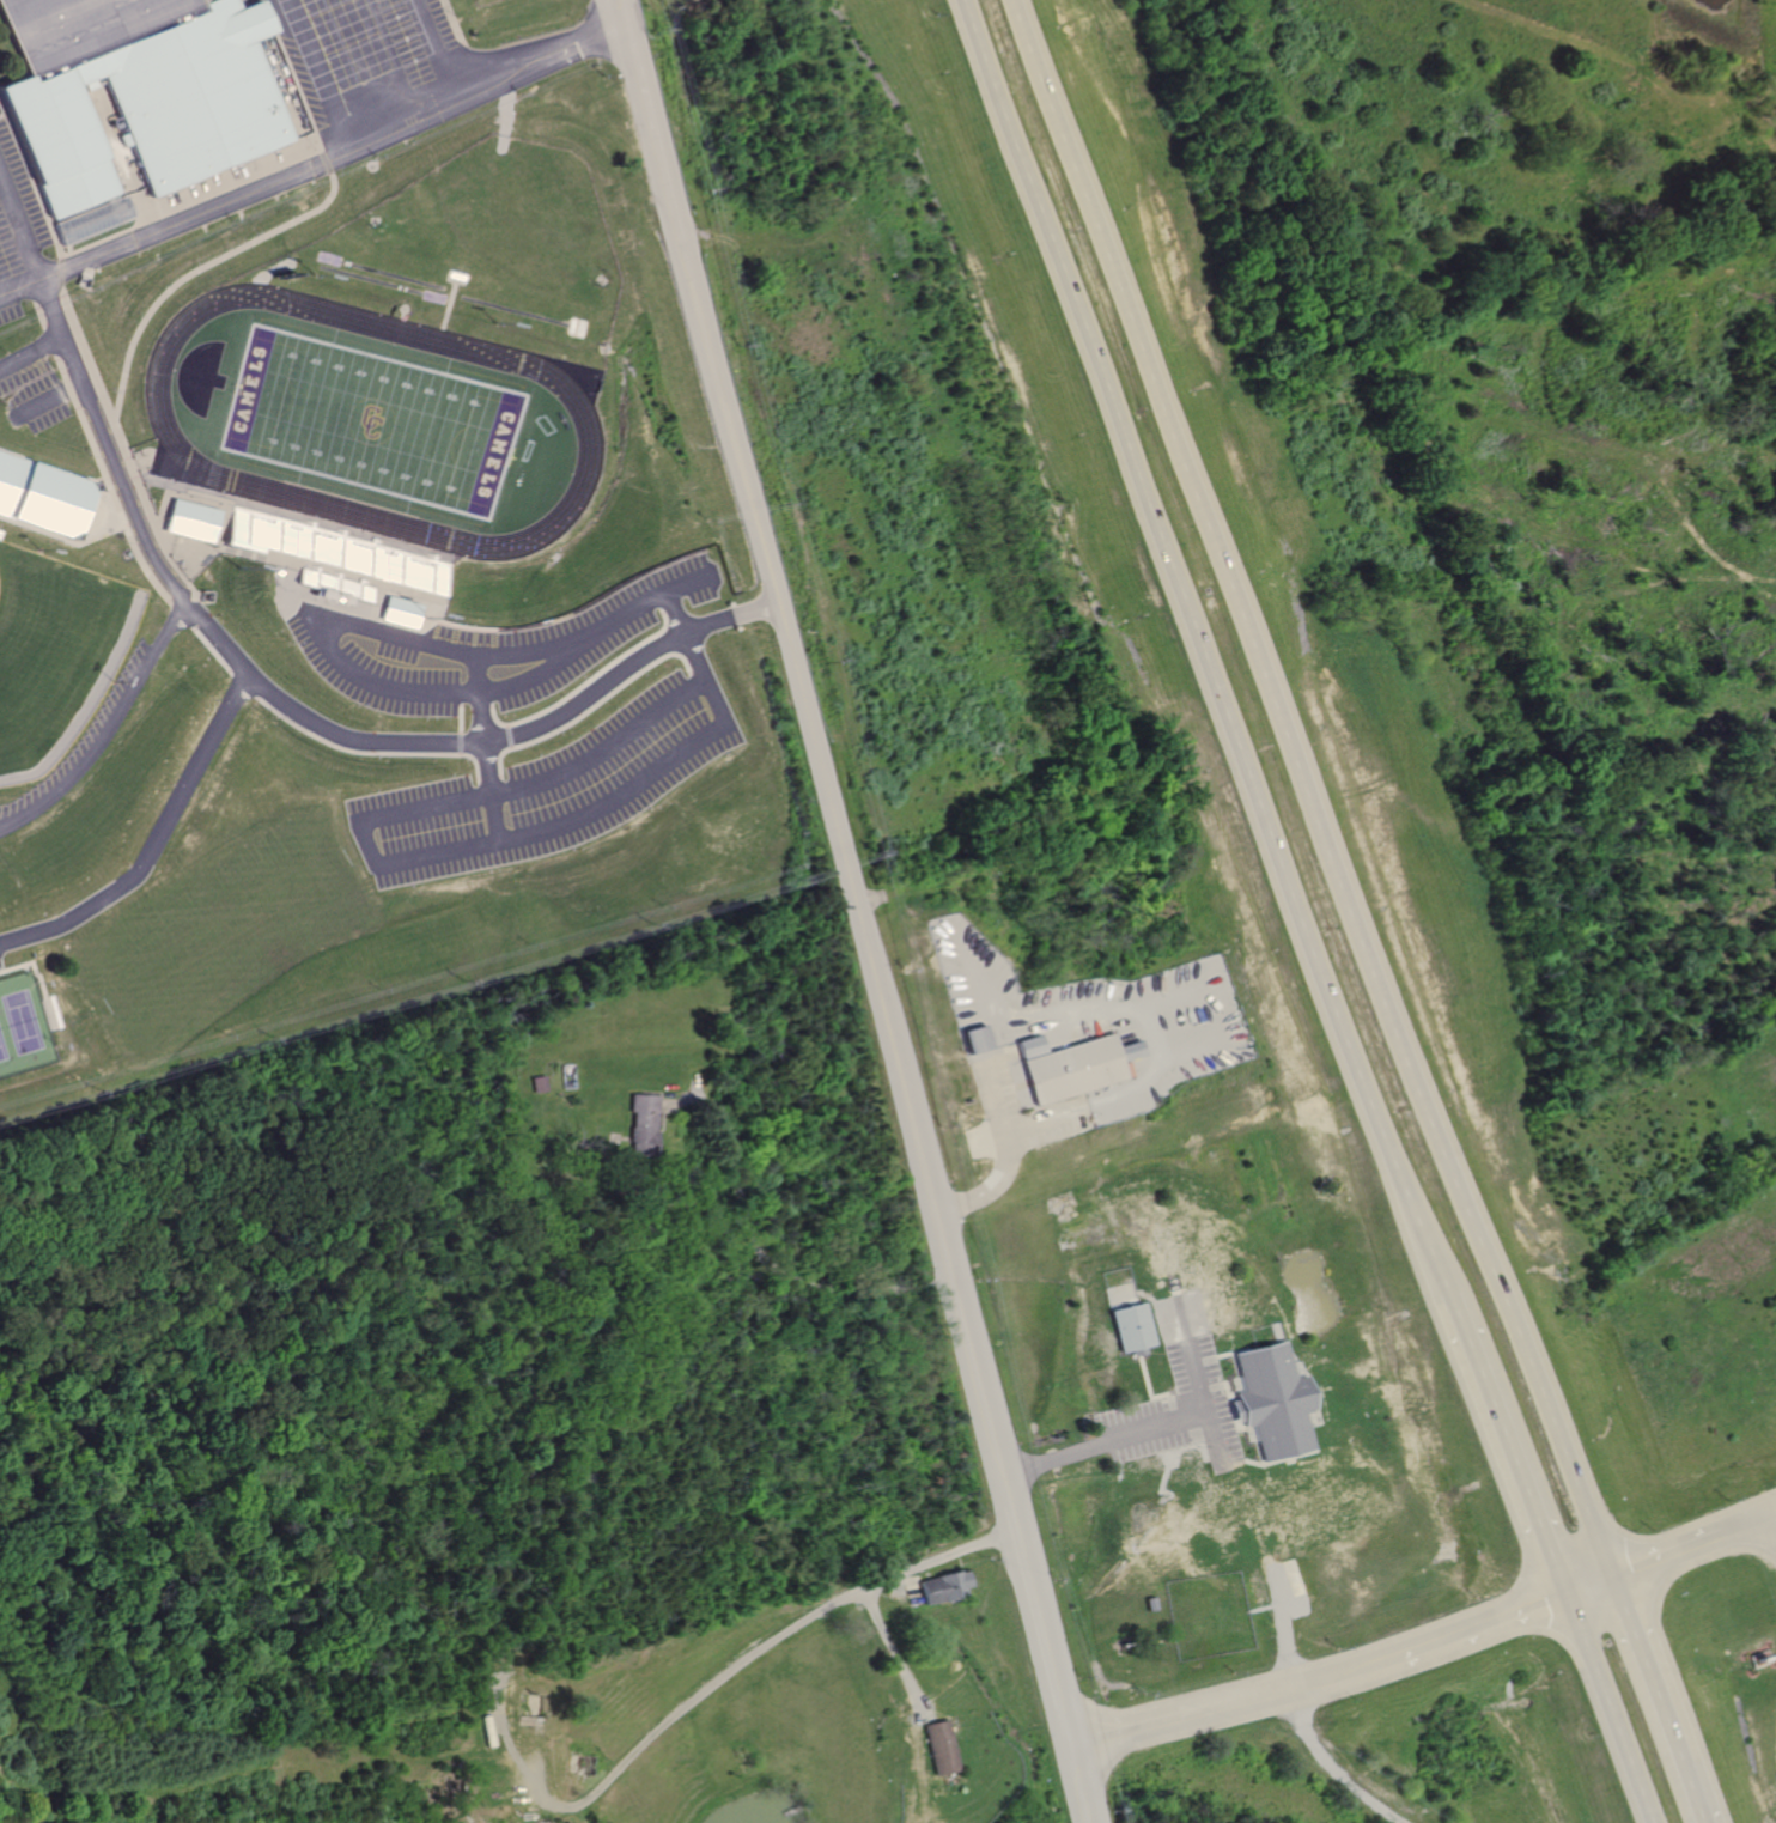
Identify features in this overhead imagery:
road: (614, 16)
road: (577, 40)
road: (428, 50)
road: (309, 75)
building: (130, 96)
road: (646, 135)
road: (272, 180)
track: (375, 269)
track: (371, 281)
flagpole: (400, 306)
track: (516, 311)
road: (29, 348)
track: (558, 387)
road: (42, 399)
park: (370, 420)
park: (370, 420)
building: (39, 496)
building: (185, 519)
road: (140, 540)
building: (330, 560)
building: (394, 612)
road: (1196, 646)
stadium: (55, 654)
park: (50, 658)
road: (811, 758)
road: (1304, 789)
park: (217, 930)
building: (969, 1040)
building: (1065, 1070)
building: (627, 1125)
road: (989, 1184)
road: (759, 1259)
building: (1131, 1327)
road: (1227, 1341)
road: (978, 1372)
building: (1271, 1403)
road: (1500, 1446)
road: (1212, 1467)
road: (1006, 1485)
road: (1770, 1524)
road: (1750, 1529)
road: (1662, 1558)
building: (944, 1587)
road: (1581, 1590)
road: (1040, 1622)
road: (1465, 1633)
road: (767, 1643)
road: (895, 1647)
road: (1288, 1690)
road: (1650, 1702)
road: (1602, 1709)
road: (1137, 1725)
building: (939, 1745)
road: (1081, 1781)

